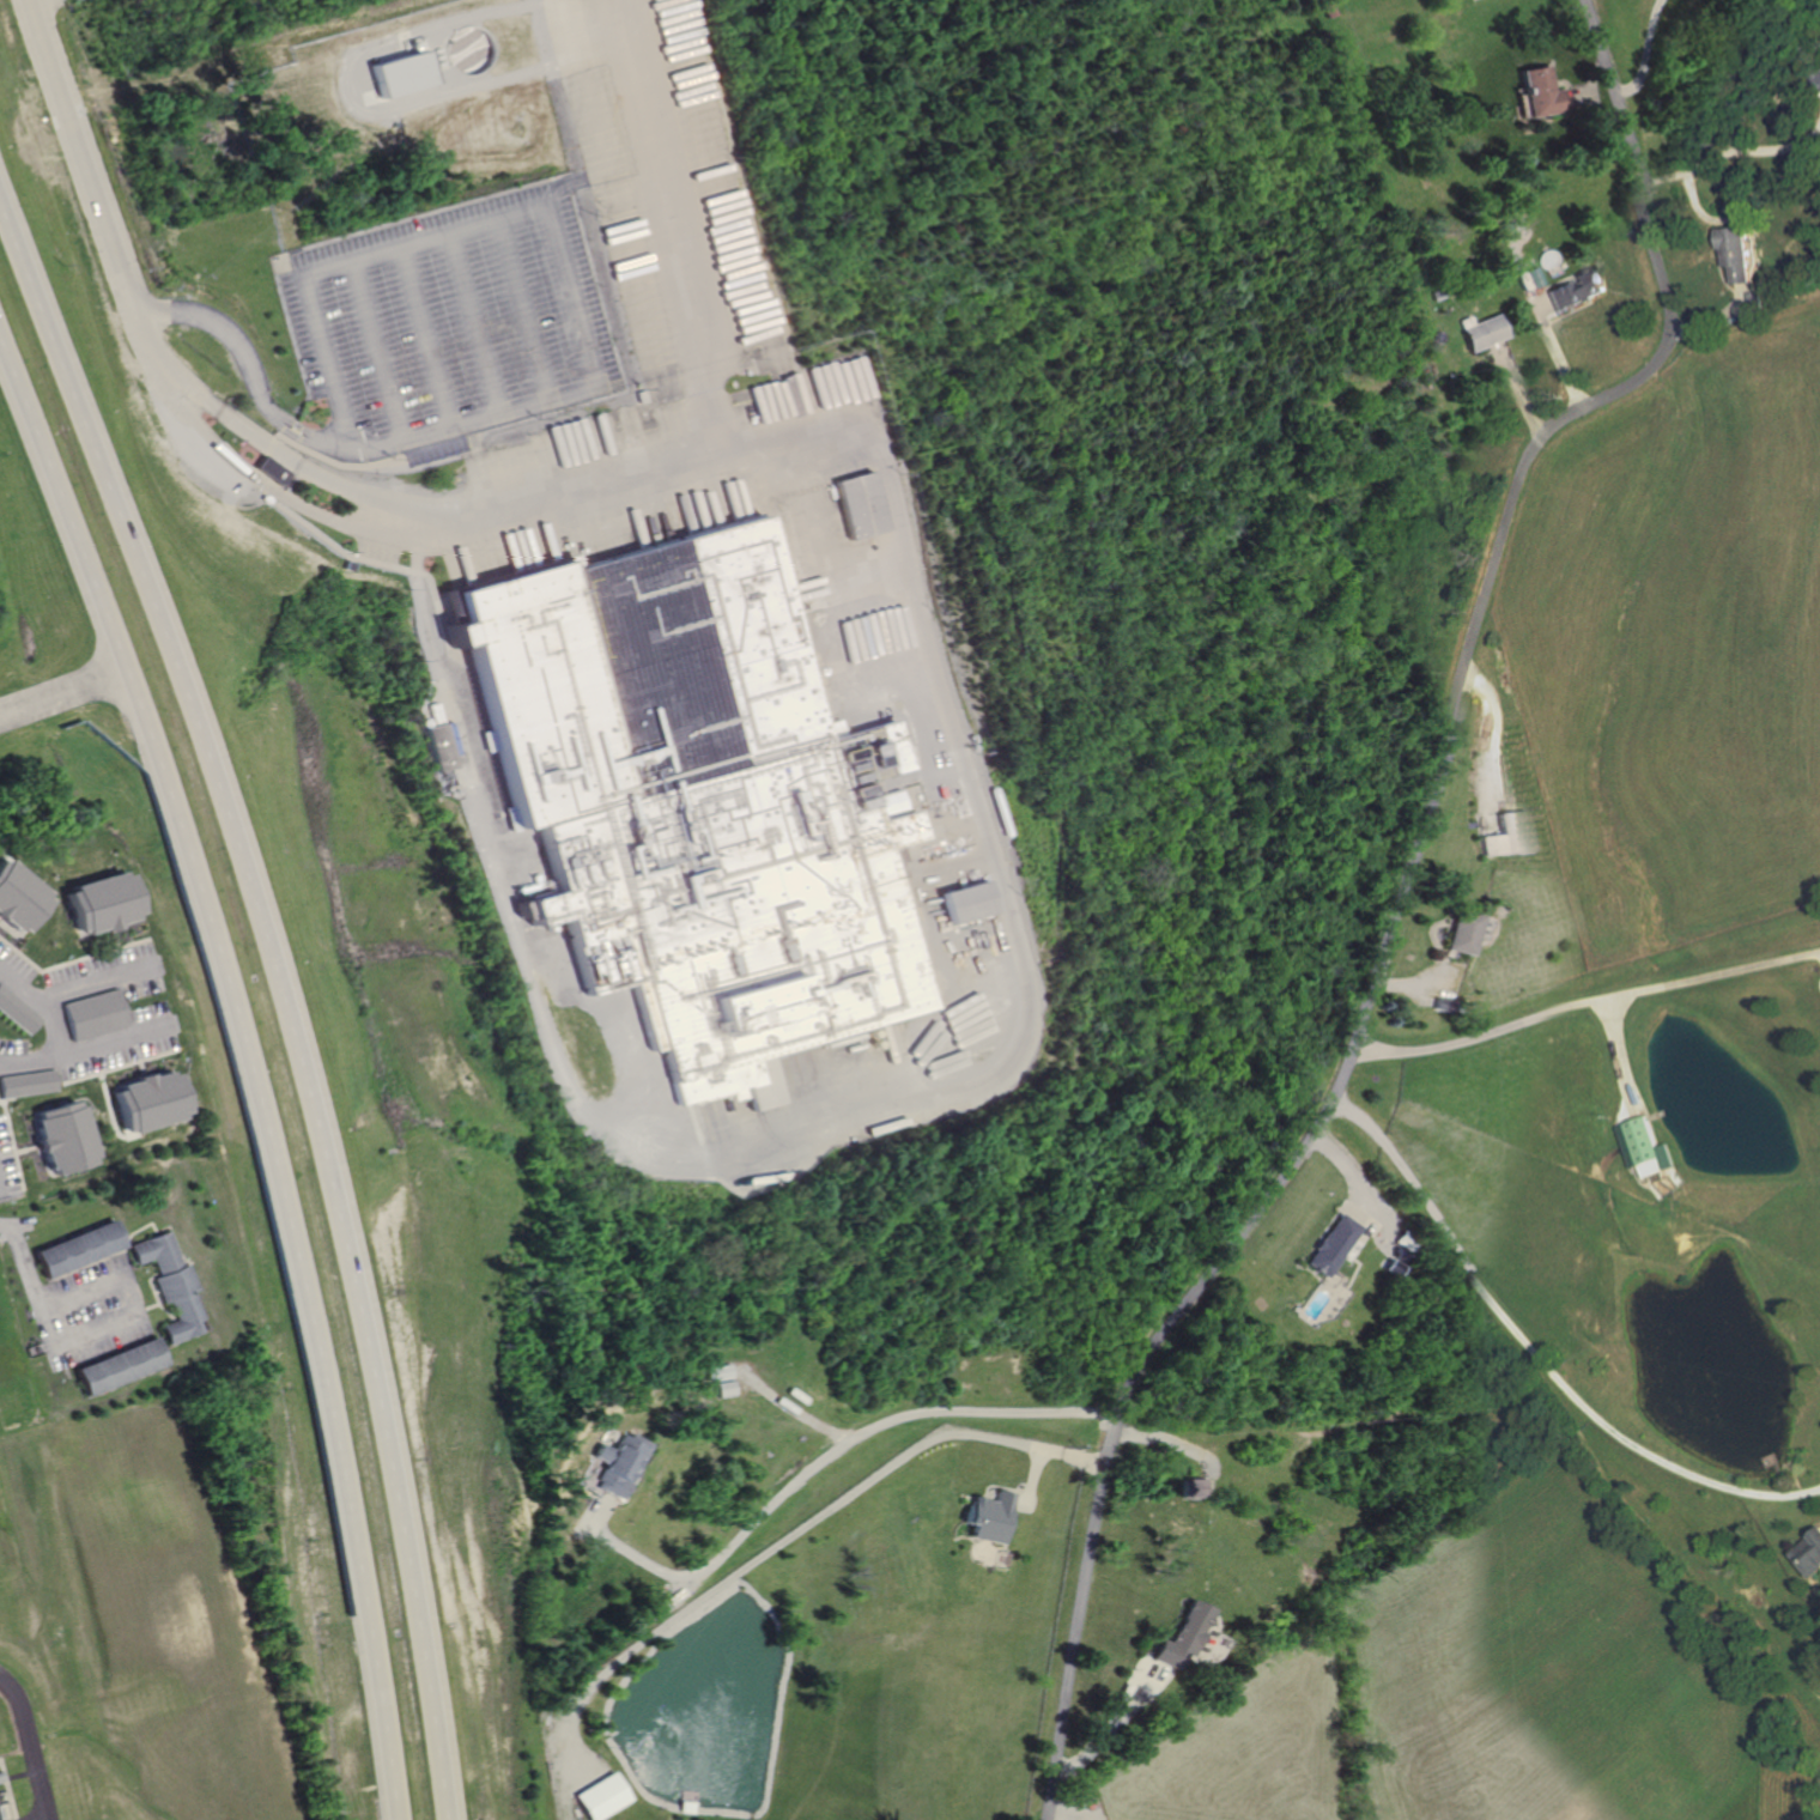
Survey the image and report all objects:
building: (1328, 10)
road: (605, 25)
road: (1640, 53)
building: (396, 72)
building: (1816, 80)
building: (1545, 92)
road: (1578, 96)
road: (1590, 97)
road: (354, 107)
road: (1728, 151)
road: (97, 195)
road: (552, 225)
building: (1741, 250)
road: (671, 255)
building: (1577, 291)
road: (523, 309)
road: (1723, 320)
road: (475, 323)
parking lot: (451, 324)
building: (1480, 329)
road: (225, 332)
road: (427, 336)
road: (1554, 345)
road: (377, 350)
road: (1517, 387)
road: (332, 442)
road: (273, 448)
building: (271, 469)
road: (254, 479)
building: (862, 504)
road: (60, 693)
road: (1498, 732)
building: (437, 748)
building: (693, 800)
building: (1504, 835)
building: (20, 898)
road: (1397, 899)
building: (965, 902)
building: (104, 903)
building: (1461, 930)
road: (1412, 983)
road: (284, 1001)
road: (1585, 1001)
road: (59, 1003)
building: (1443, 1005)
building: (18, 1011)
building: (96, 1015)
road: (65, 1056)
road: (1626, 1056)
road: (1023, 1058)
road: (253, 1070)
building: (29, 1084)
building: (151, 1102)
building: (66, 1137)
building: (1654, 1143)
road: (2, 1165)
road: (1355, 1182)
road: (1354, 1203)
building: (1402, 1238)
building: (1329, 1242)
road: (22, 1249)
building: (81, 1249)
building: (1396, 1252)
building: (176, 1285)
road: (131, 1315)
road: (1535, 1355)
building: (123, 1367)
building: (721, 1373)
building: (727, 1388)
road: (808, 1418)
road: (1170, 1440)
road: (1085, 1457)
building: (618, 1464)
road: (813, 1469)
road: (1036, 1482)
building: (1199, 1486)
building: (995, 1517)
road: (777, 1547)
building: (1812, 1554)
building: (1184, 1634)
road: (1112, 1722)
road: (32, 1742)
building: (603, 1797)
road: (1078, 1812)
road: (1051, 1818)
building: (0, 1819)

